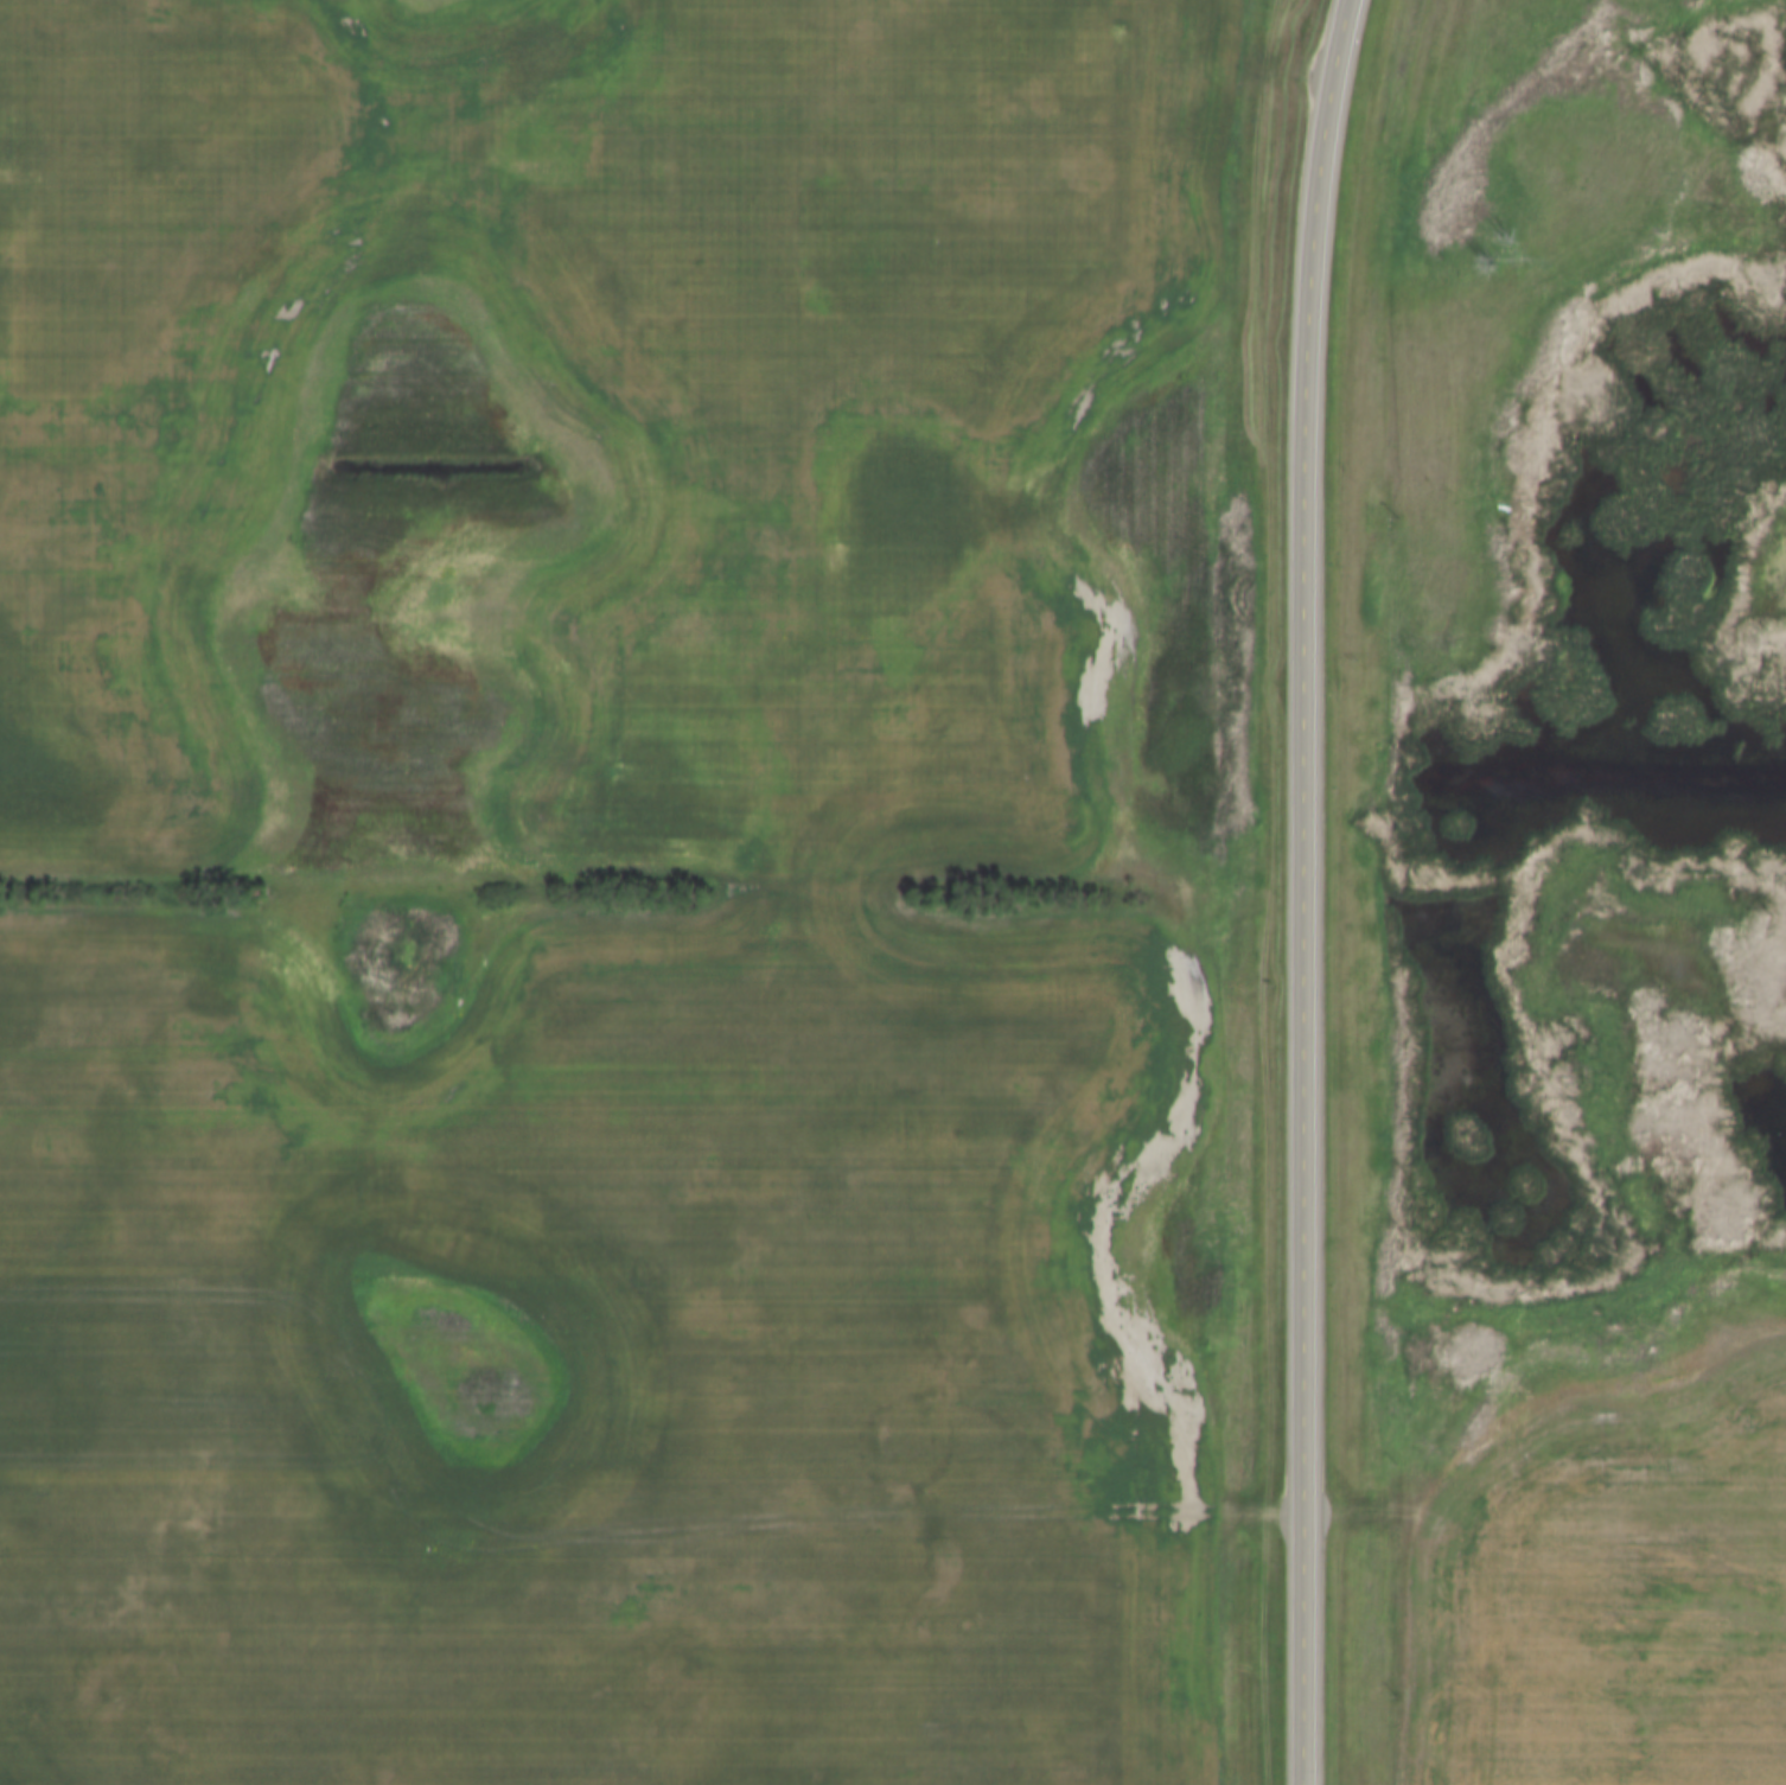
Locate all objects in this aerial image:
road: (1350, 5)
road: (1309, 895)

